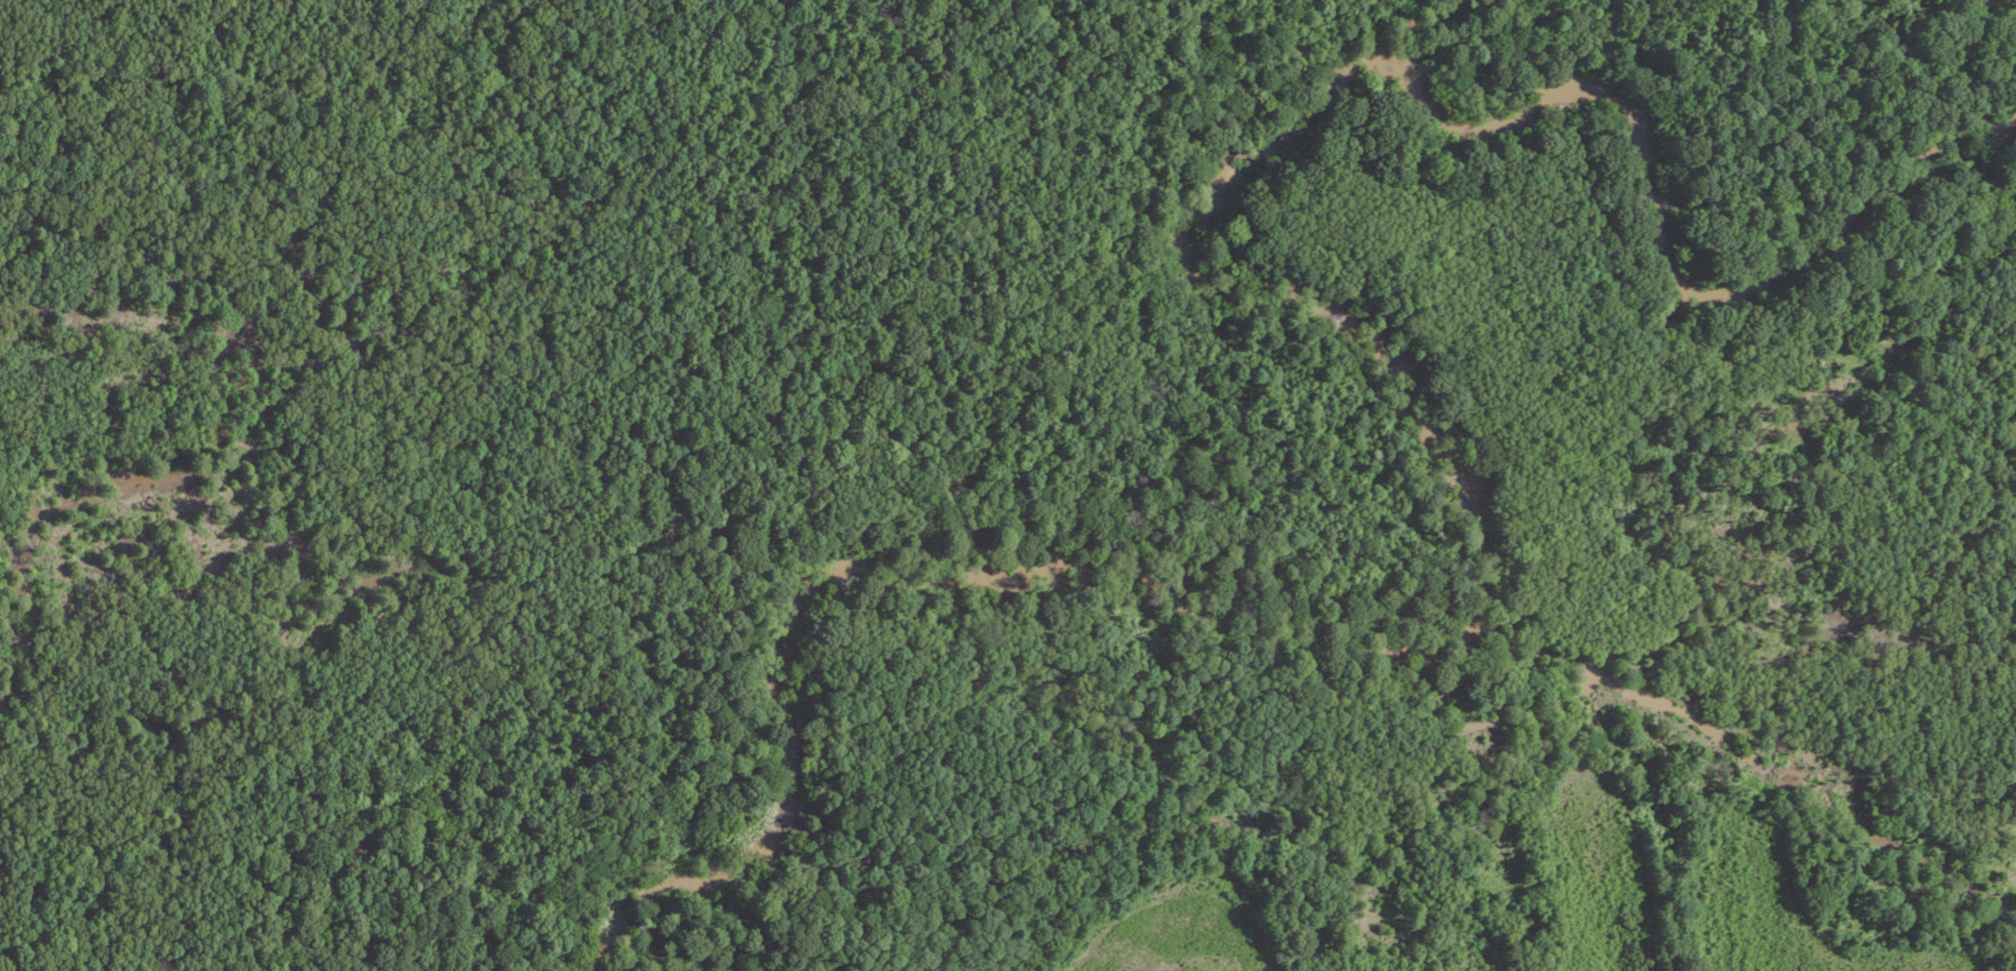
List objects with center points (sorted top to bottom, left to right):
river: (1406, 386)

